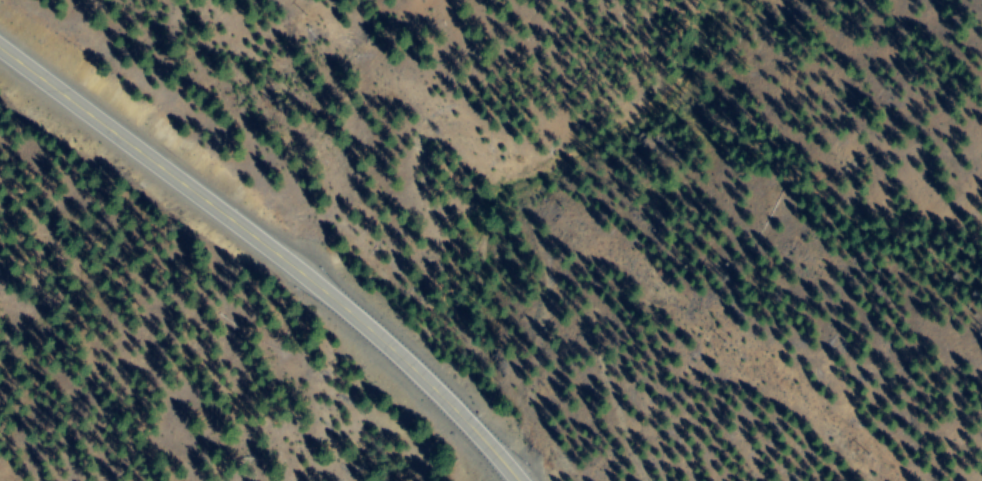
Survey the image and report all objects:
road: (274, 245)

